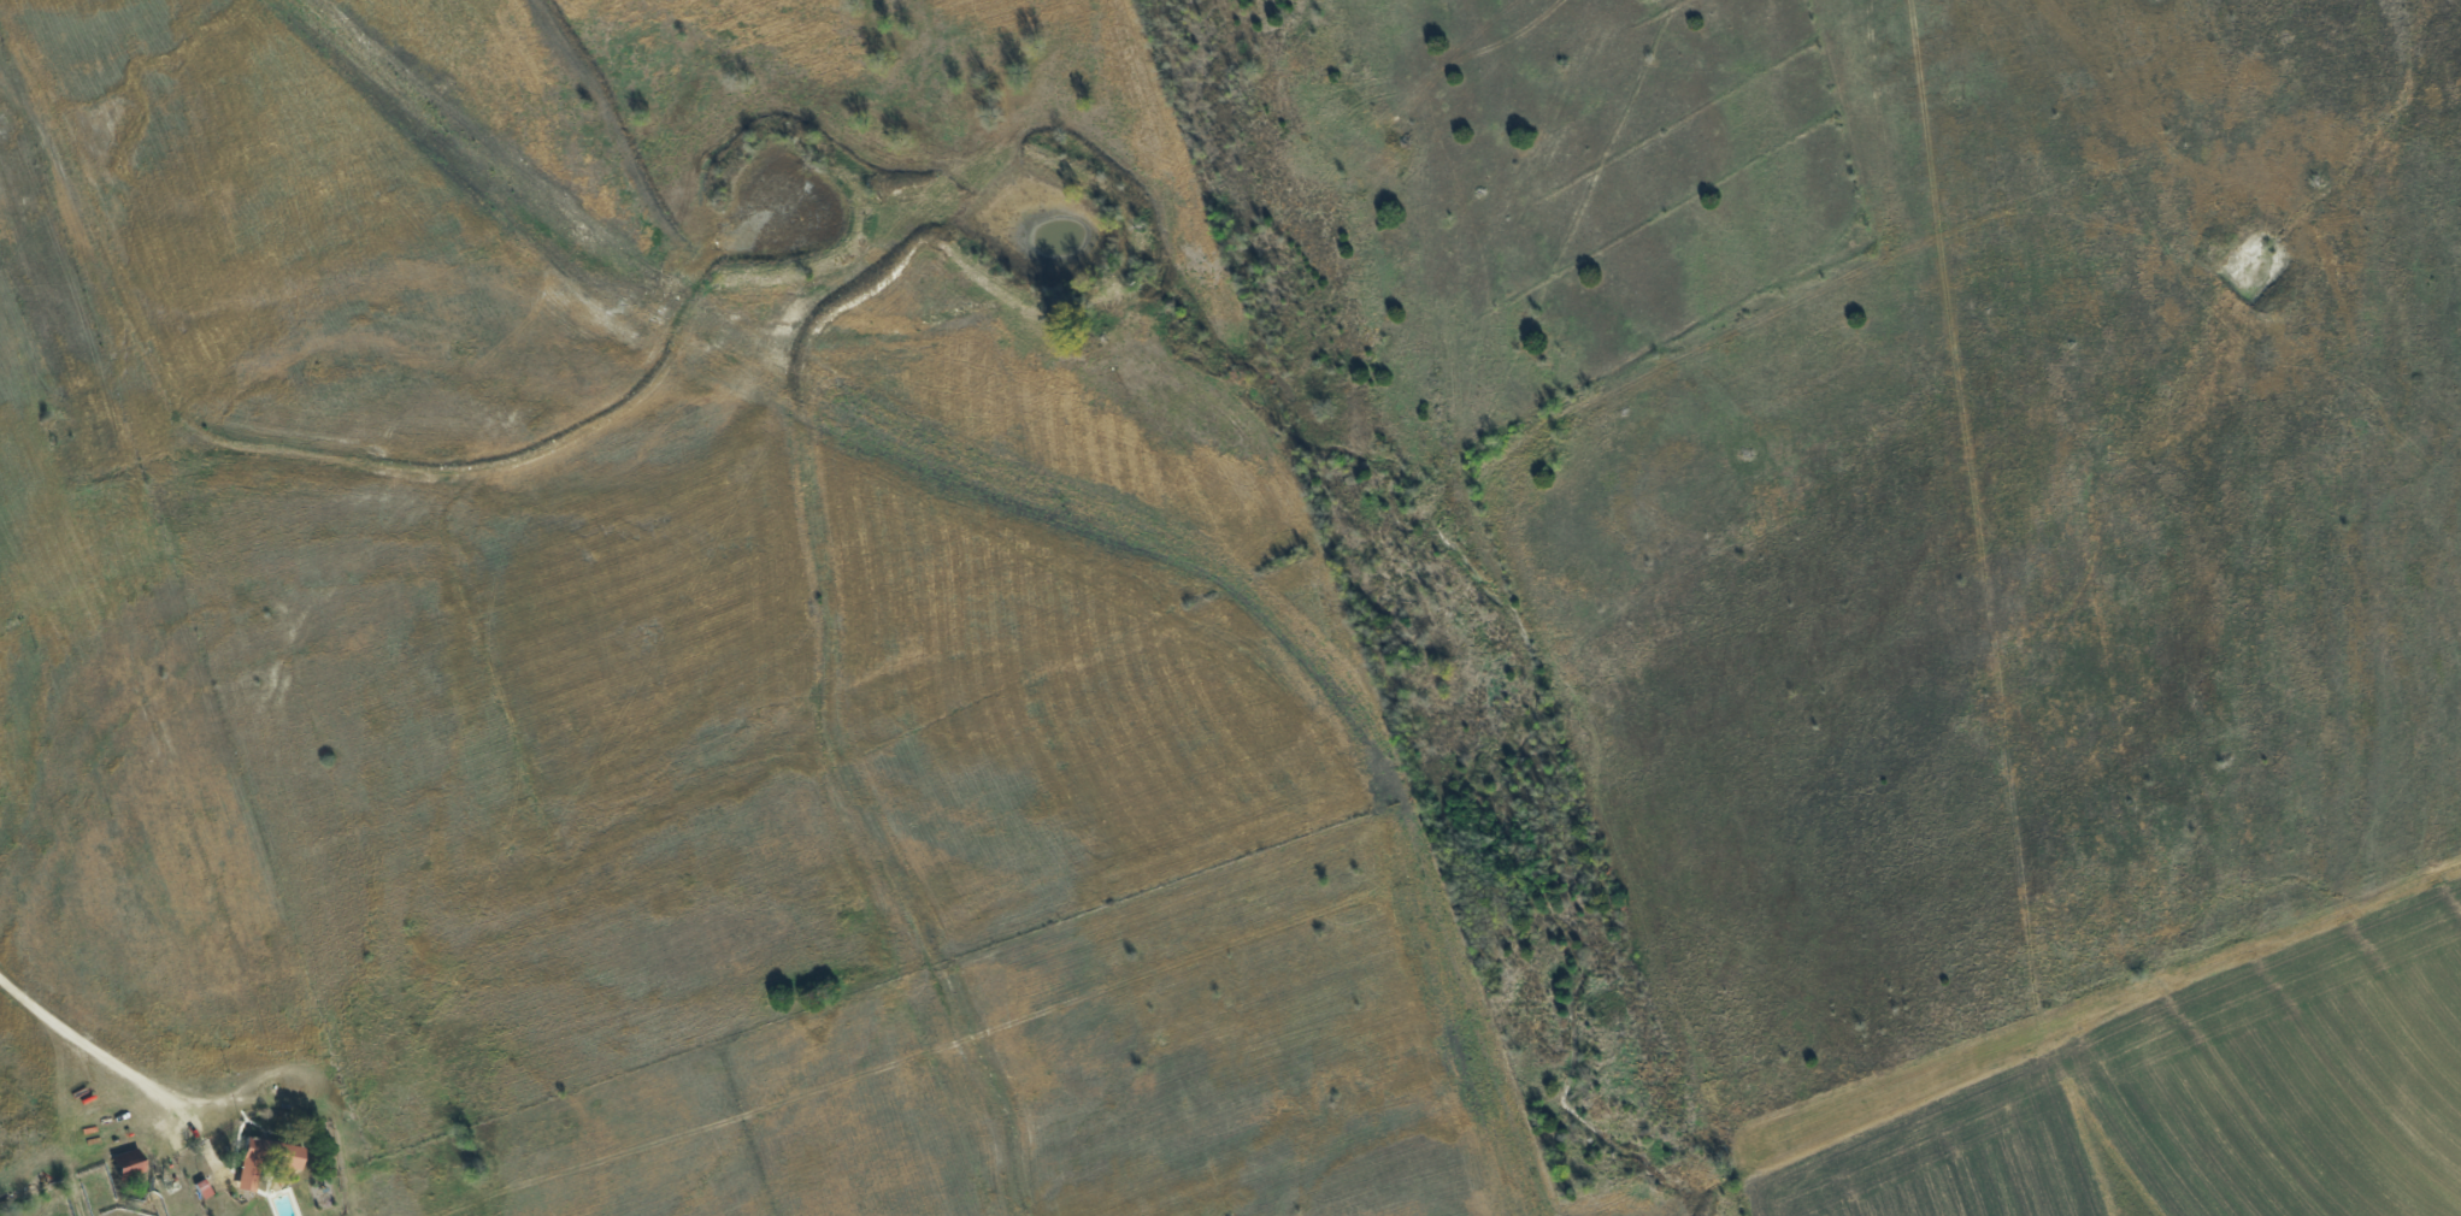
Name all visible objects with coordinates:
road: (106, 1046)
building: (124, 1164)

